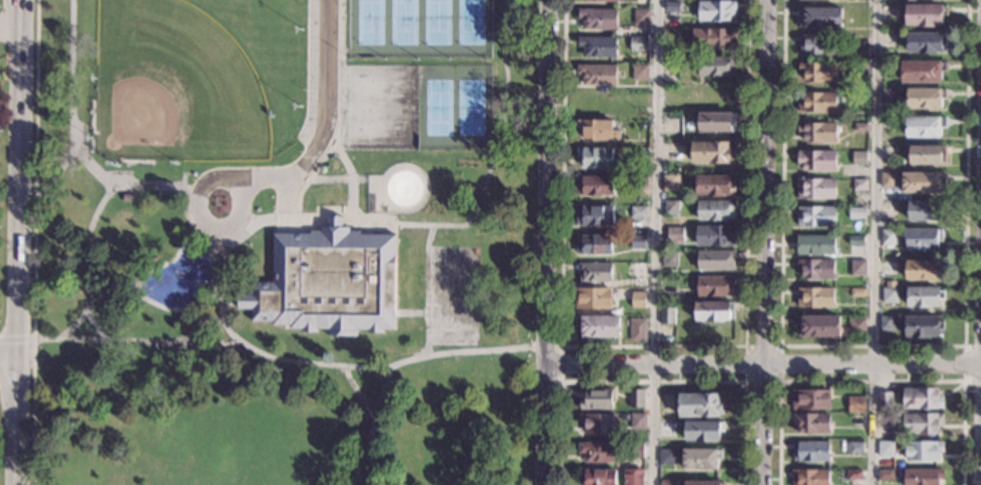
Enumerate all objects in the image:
building: (911, 0)
building: (605, 1)
building: (672, 7)
building: (716, 11)
building: (925, 15)
building: (641, 17)
building: (820, 18)
building: (598, 19)
park: (368, 29)
park: (403, 29)
park: (436, 29)
park: (472, 29)
building: (714, 39)
building: (927, 43)
building: (638, 44)
building: (819, 45)
building: (598, 47)
building: (671, 47)
building: (671, 63)
building: (717, 67)
parking lot: (311, 71)
building: (922, 71)
building: (640, 72)
building: (818, 72)
building: (597, 75)
park: (174, 86)
building: (888, 96)
building: (925, 98)
building: (817, 102)
park: (379, 106)
park: (435, 107)
park: (472, 107)
road: (341, 116)
road: (328, 118)
building: (717, 122)
building: (888, 125)
building: (924, 127)
building: (861, 128)
building: (598, 130)
building: (818, 132)
road: (73, 139)
road: (495, 149)
building: (713, 152)
building: (640, 153)
building: (889, 154)
building: (928, 155)
building: (597, 158)
building: (859, 158)
building: (817, 160)
road: (349, 174)
road: (56, 177)
road: (337, 179)
building: (638, 181)
building: (889, 181)
building: (670, 183)
building: (924, 183)
building: (859, 185)
building: (595, 186)
building: (715, 186)
building: (816, 189)
building: (128, 199)
building: (671, 208)
building: (715, 210)
building: (887, 210)
building: (926, 211)
building: (639, 213)
building: (856, 213)
building: (595, 215)
building: (816, 217)
road: (201, 220)
building: (866, 222)
building: (675, 235)
building: (715, 236)
building: (889, 237)
building: (922, 240)
road: (206, 241)
building: (856, 241)
road: (19, 242)
road: (34, 242)
park: (283, 242)
road: (548, 242)
building: (638, 242)
road: (656, 242)
road: (765, 242)
road: (874, 242)
building: (594, 245)
building: (816, 245)
road: (221, 257)
building: (669, 259)
building: (716, 261)
road: (88, 265)
building: (858, 267)
building: (817, 269)
building: (922, 270)
building: (594, 272)
road: (145, 273)
building: (638, 274)
building: (328, 282)
building: (890, 284)
building: (716, 286)
road: (427, 290)
building: (513, 291)
building: (858, 293)
building: (889, 295)
building: (924, 297)
building: (593, 298)
building: (815, 298)
building: (638, 299)
building: (713, 311)
road: (411, 312)
building: (667, 316)
building: (888, 323)
building: (598, 326)
building: (819, 327)
building: (856, 327)
building: (923, 327)
building: (638, 330)
road: (232, 335)
road: (16, 339)
road: (69, 339)
road: (478, 343)
road: (652, 346)
road: (871, 346)
road: (561, 349)
road: (9, 359)
road: (764, 362)
road: (964, 363)
road: (356, 365)
road: (779, 380)
road: (871, 380)
road: (652, 381)
road: (387, 389)
building: (636, 399)
building: (810, 399)
building: (922, 399)
building: (597, 400)
building: (884, 400)
building: (855, 405)
building: (699, 406)
building: (666, 407)
road: (980, 415)
building: (638, 421)
road: (371, 422)
building: (599, 423)
building: (811, 423)
building: (922, 423)
building: (703, 431)
building: (855, 447)
building: (886, 449)
building: (636, 450)
road: (372, 451)
building: (810, 451)
building: (923, 451)
building: (599, 452)
building: (667, 457)
building: (701, 459)
building: (854, 475)
building: (885, 475)
building: (922, 476)
building: (599, 477)
building: (633, 477)
building: (811, 477)
building: (668, 482)
building: (704, 483)

